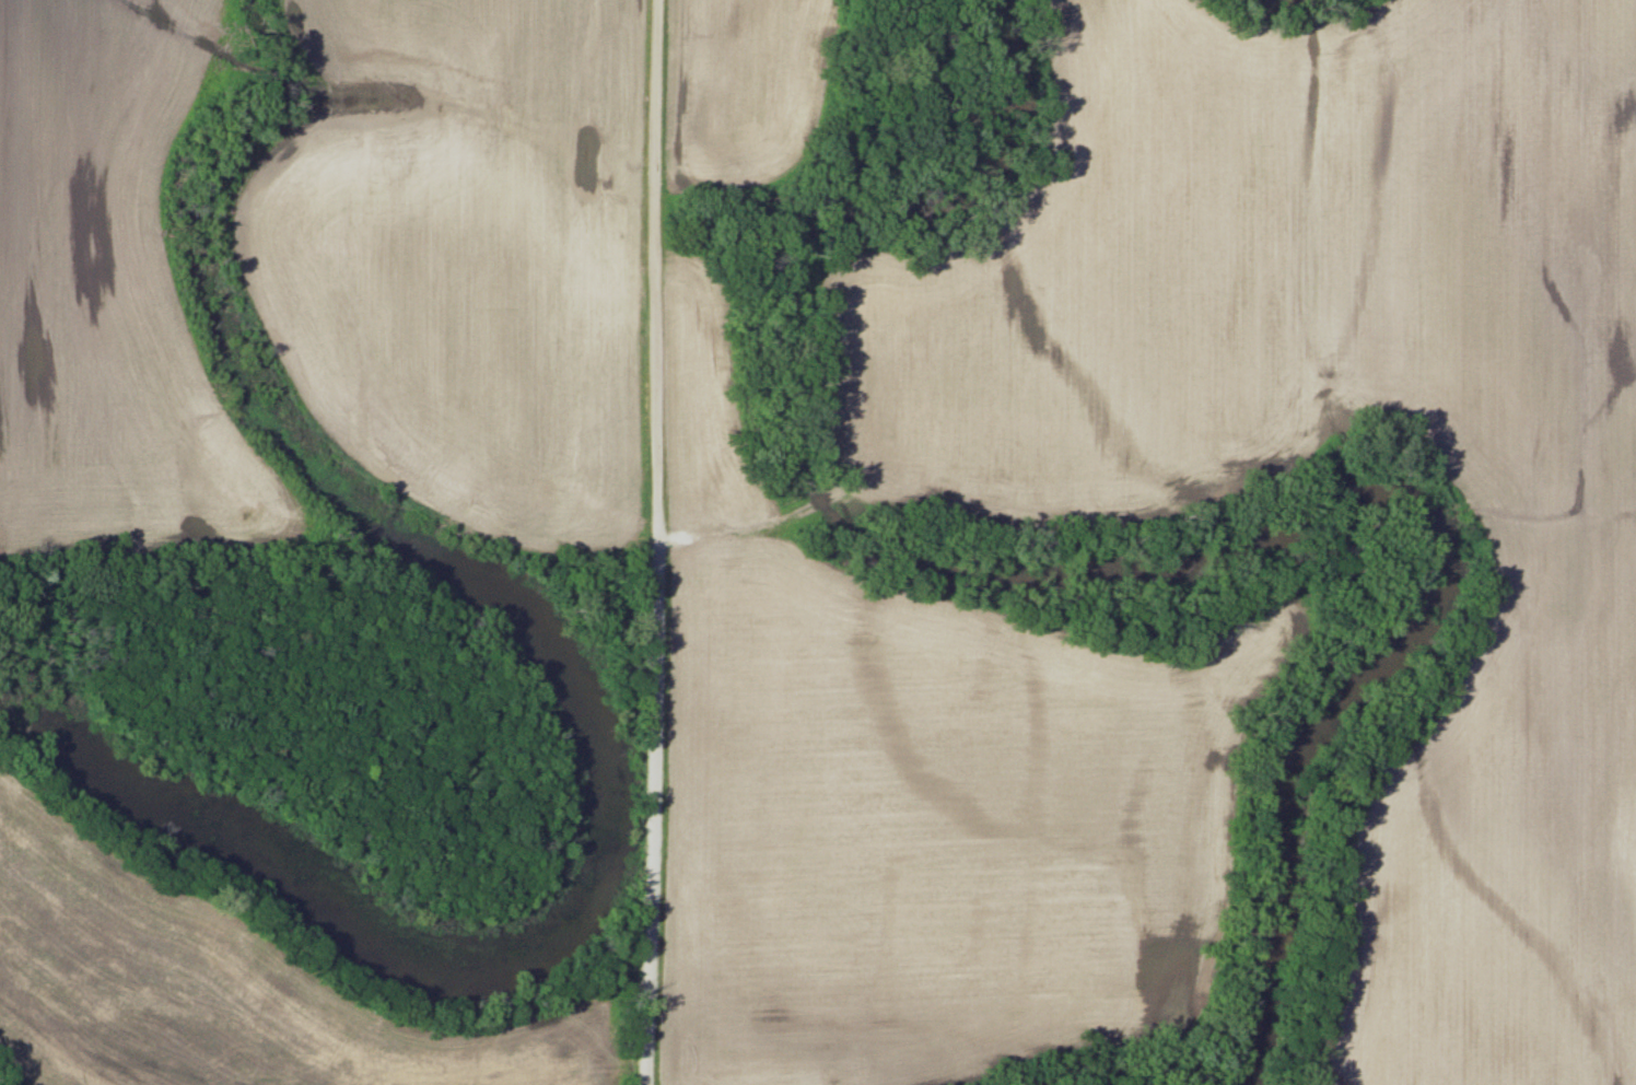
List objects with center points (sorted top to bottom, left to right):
road: (656, 542)

